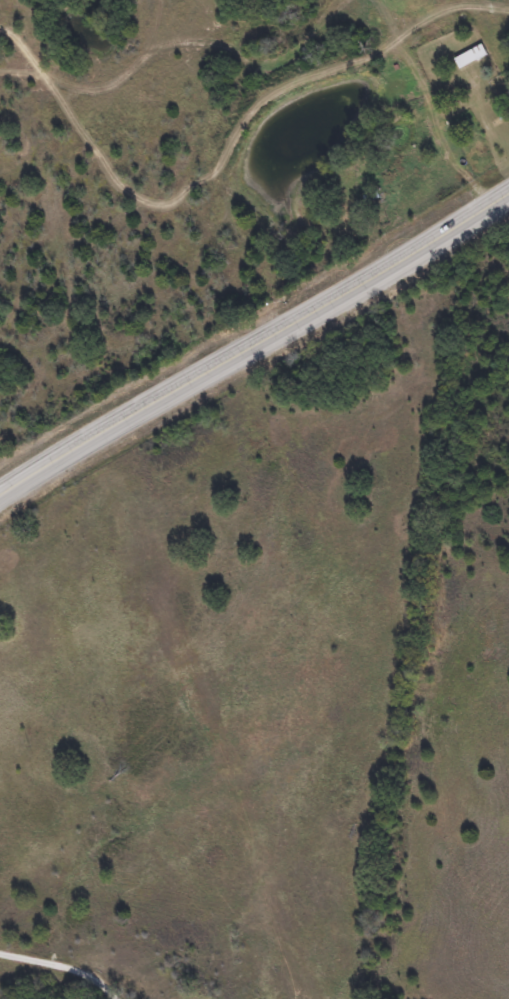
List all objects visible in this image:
building: (470, 56)
road: (254, 346)
road: (75, 955)

